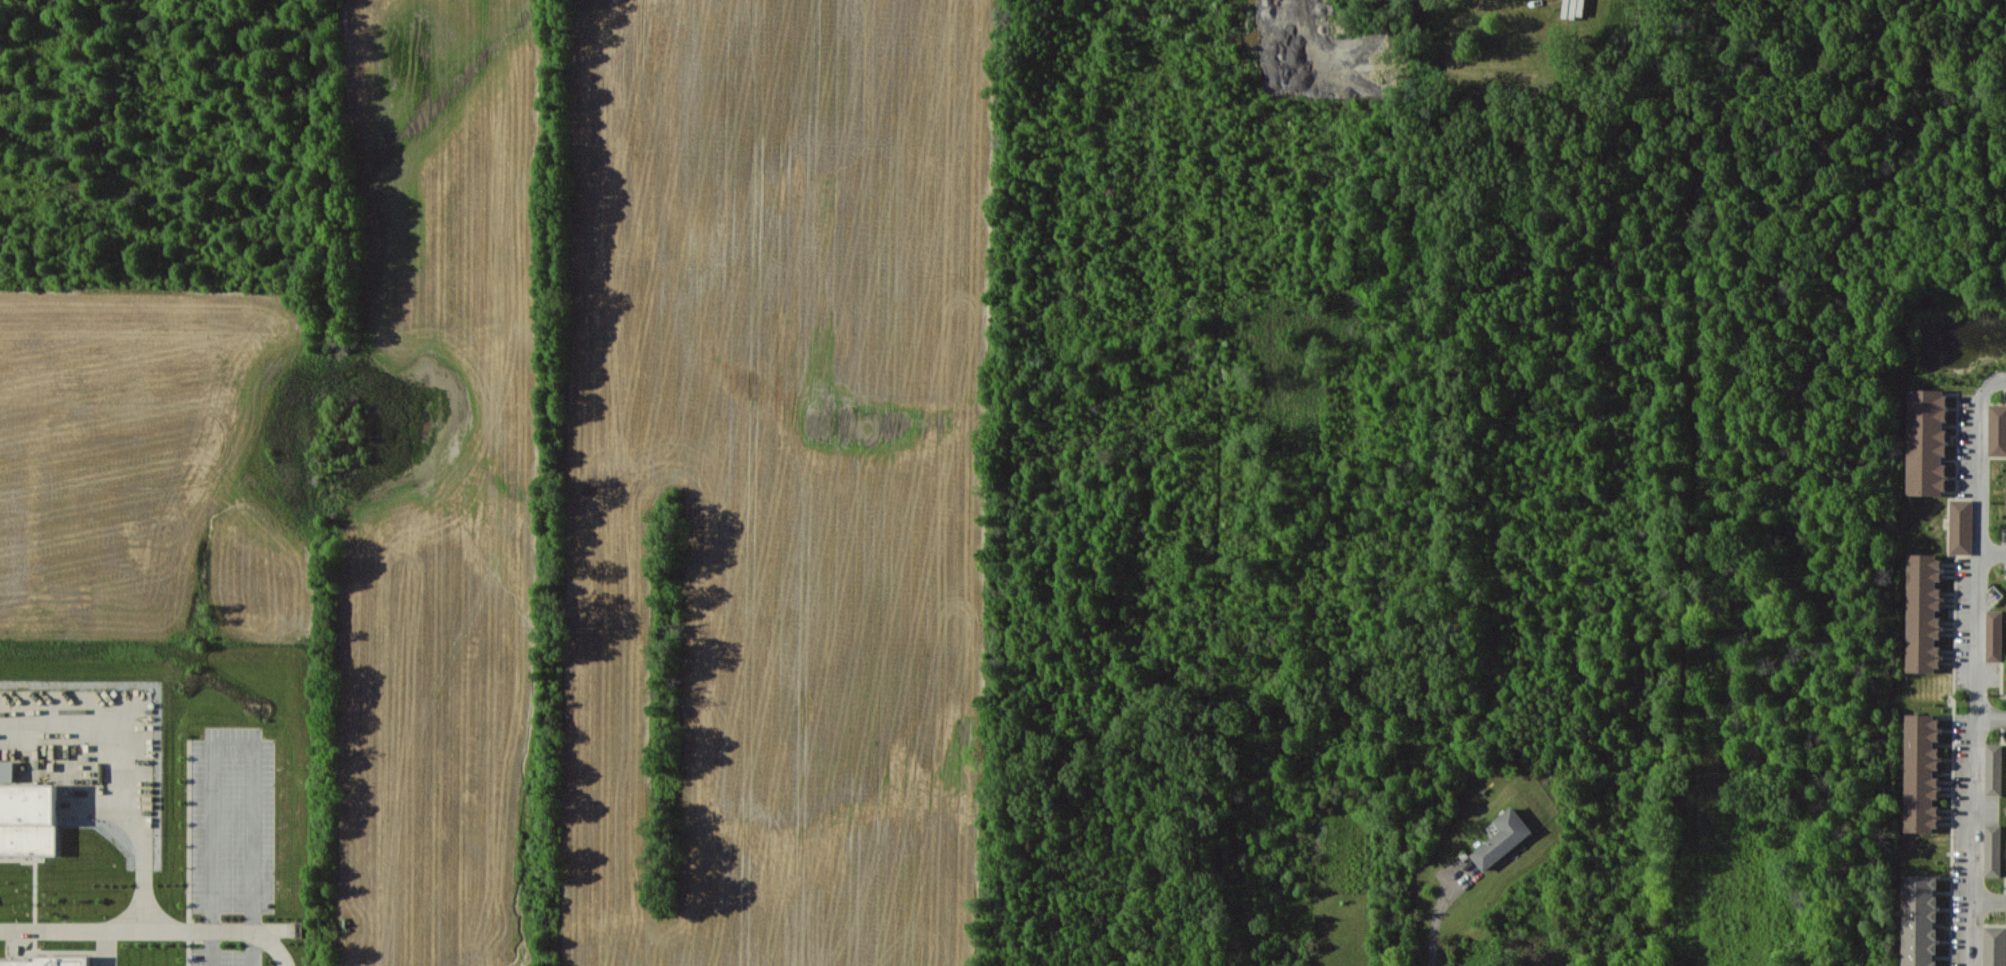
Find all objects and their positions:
building: (1997, 429)
building: (1927, 442)
building: (1961, 526)
road: (1993, 550)
building: (1924, 613)
building: (1994, 635)
road: (1977, 666)
road: (1991, 717)
road: (232, 749)
building: (1994, 769)
building: (7, 770)
building: (1922, 772)
road: (124, 775)
building: (28, 818)
building: (1503, 838)
building: (1993, 850)
road: (1990, 900)
building: (1920, 920)
road: (1434, 921)
road: (152, 929)
building: (1994, 945)
building: (48, 961)

